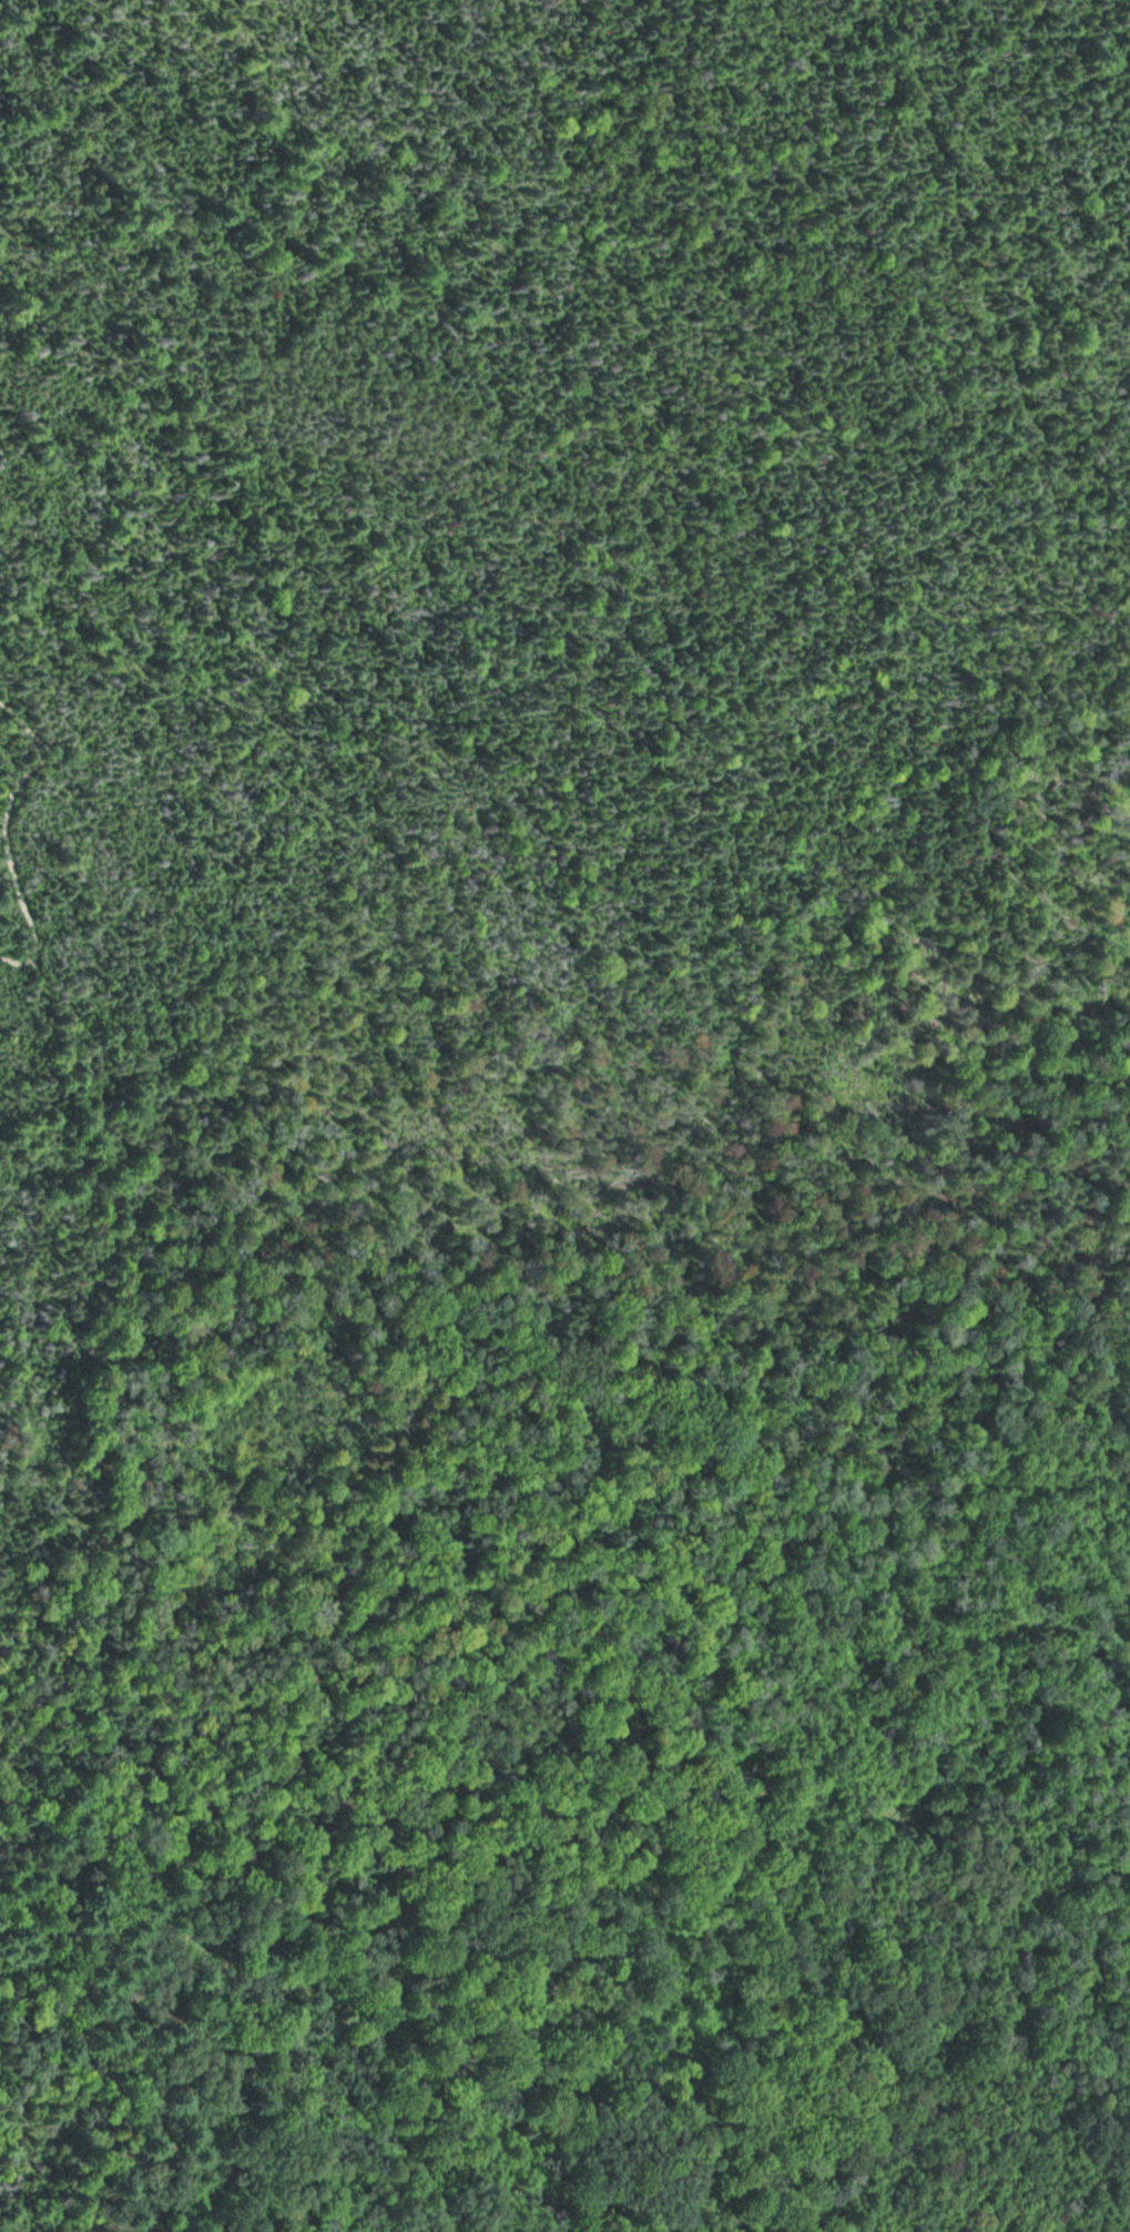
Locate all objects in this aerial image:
road: (989, 317)
road: (2, 826)
road: (376, 1678)

